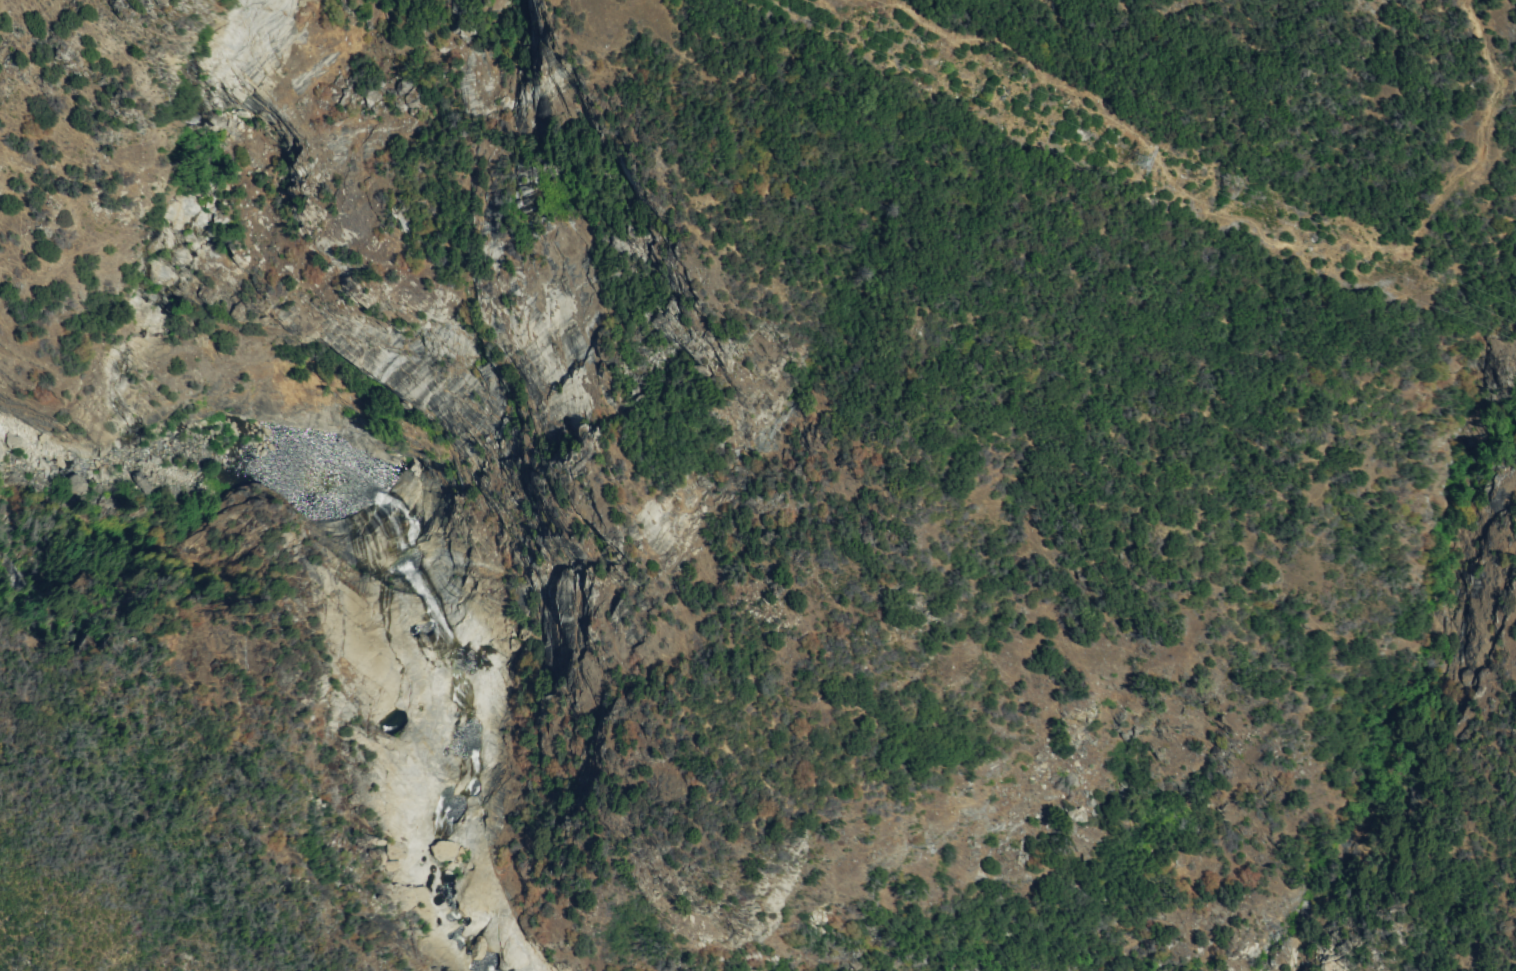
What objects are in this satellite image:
power tower: (1143, 157)
river: (390, 561)

